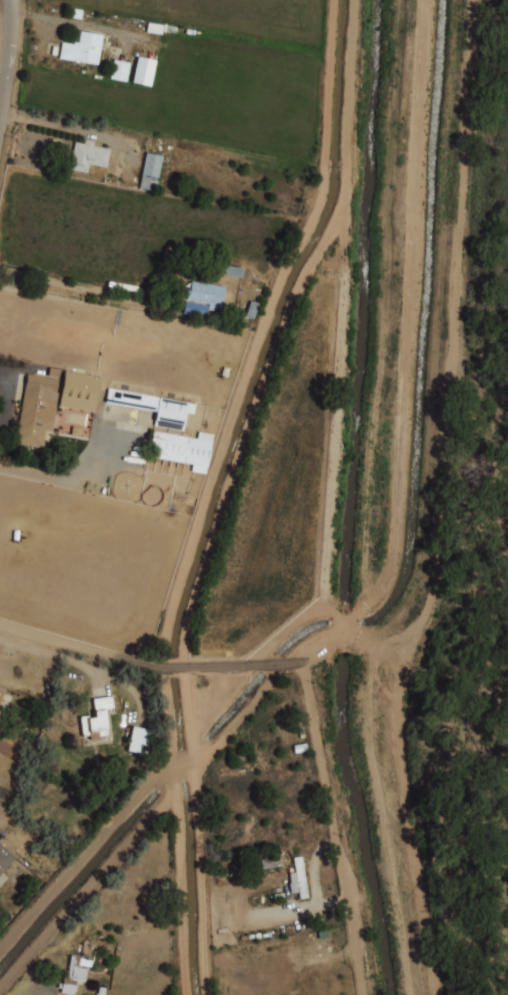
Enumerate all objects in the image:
road: (11, 48)
building: (85, 48)
building: (120, 71)
building: (145, 71)
road: (2, 108)
building: (90, 156)
building: (151, 172)
building: (232, 271)
building: (205, 298)
road: (260, 334)
building: (81, 392)
building: (155, 407)
building: (38, 410)
building: (185, 450)
road: (310, 678)
building: (1, 694)
building: (0, 711)
building: (97, 719)
building: (139, 740)
building: (4, 746)
building: (302, 748)
building: (5, 858)
building: (301, 879)
road: (34, 970)
building: (75, 976)

